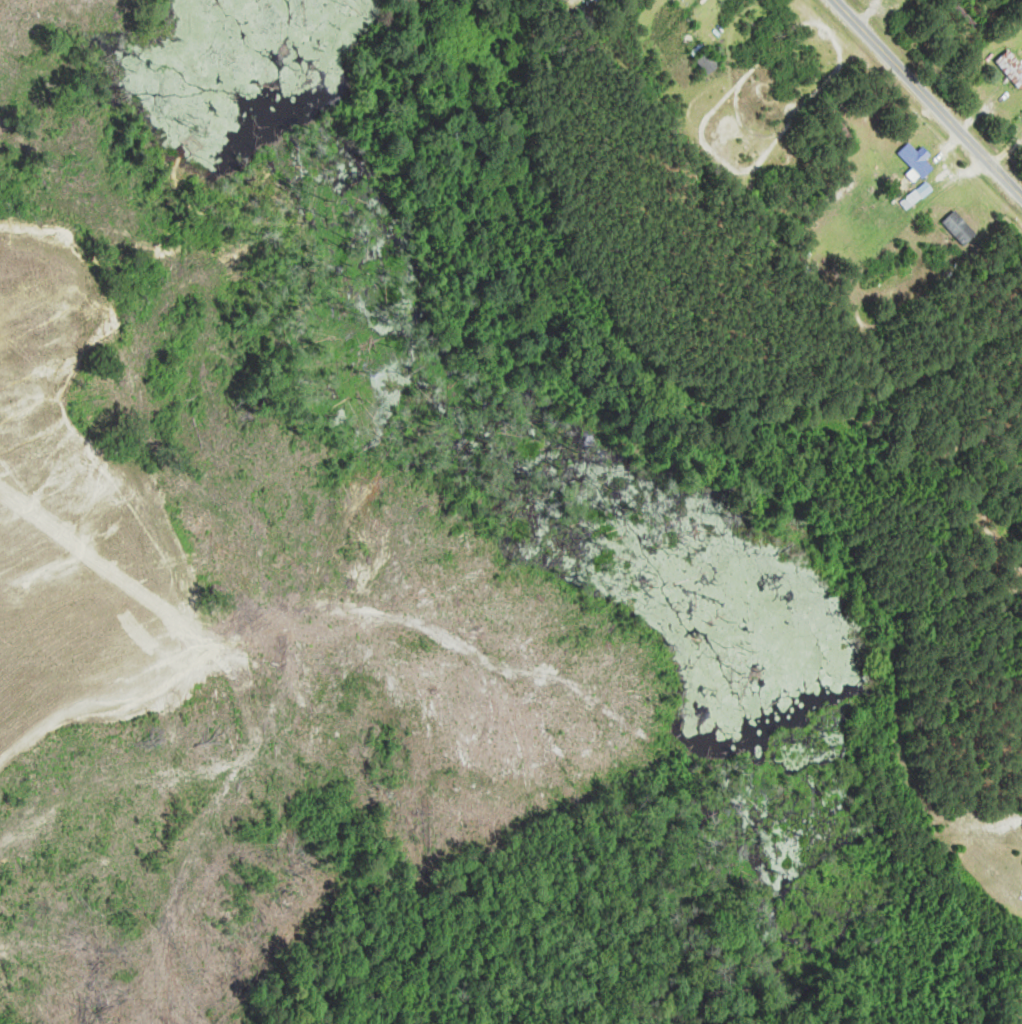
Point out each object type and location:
building: (705, 58)
building: (1011, 69)
road: (929, 97)
building: (842, 129)
building: (917, 159)
building: (911, 200)
building: (959, 228)
building: (1021, 1023)

